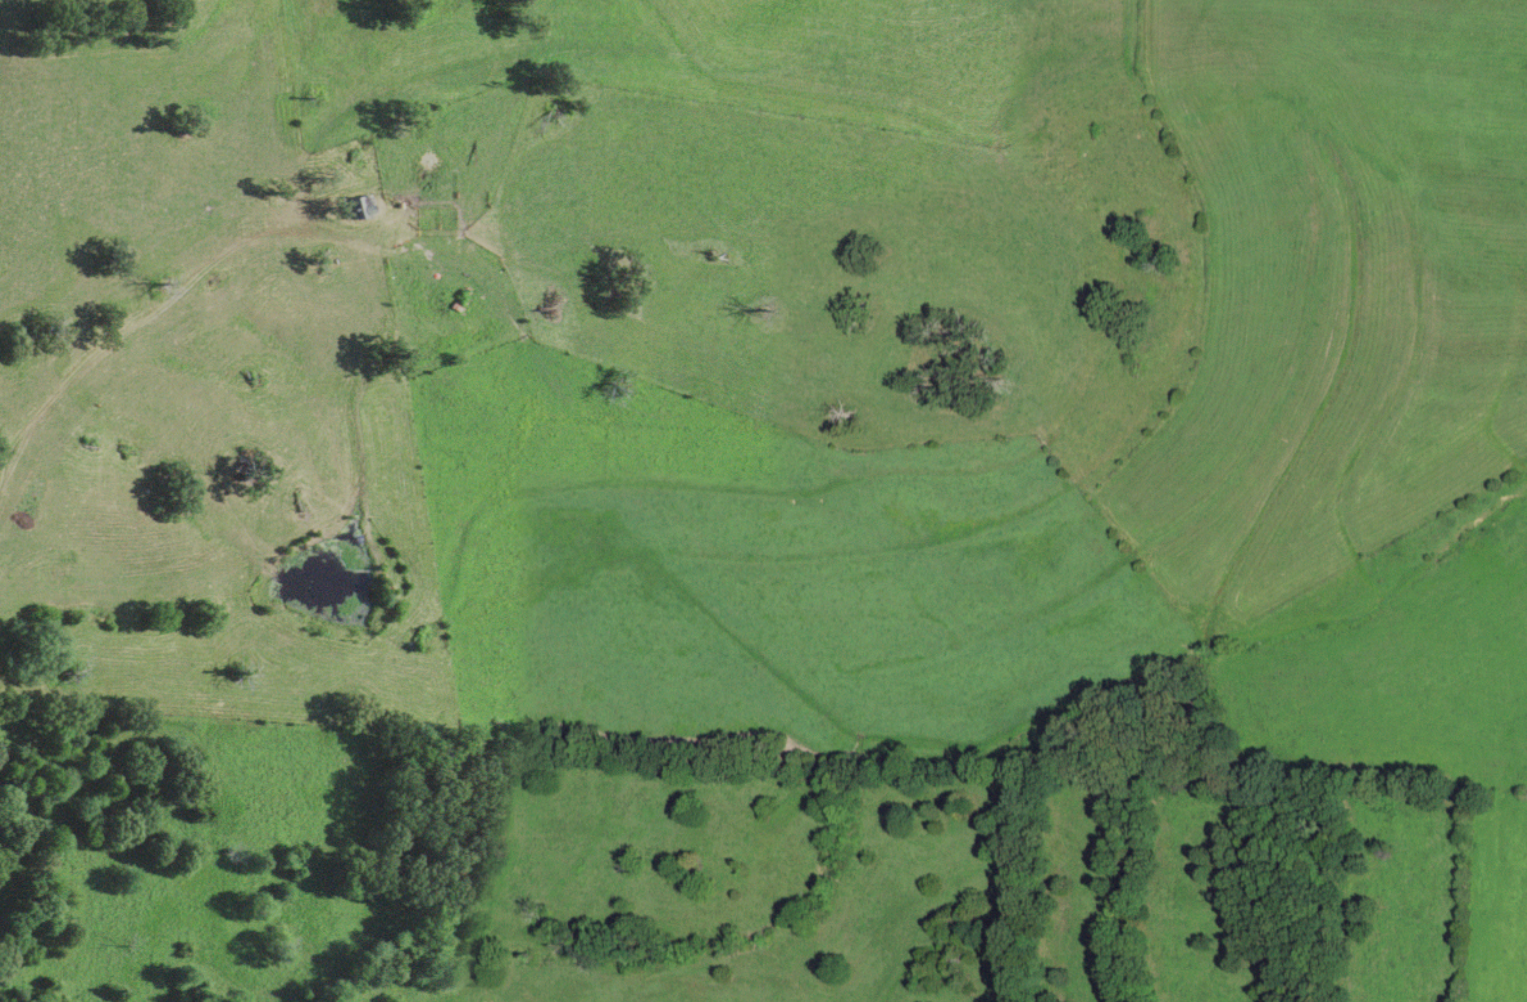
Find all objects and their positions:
building: (360, 208)
road: (186, 286)

